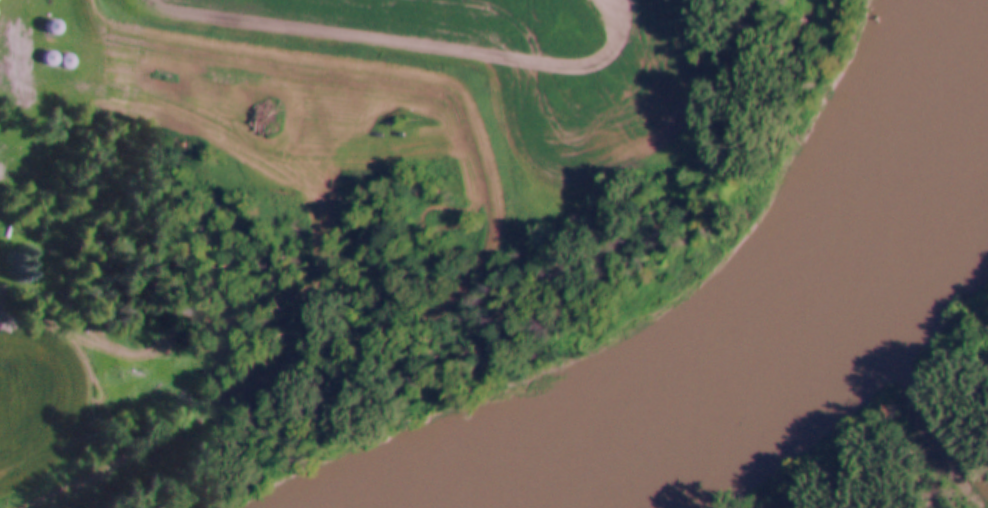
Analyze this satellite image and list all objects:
river: (792, 303)

